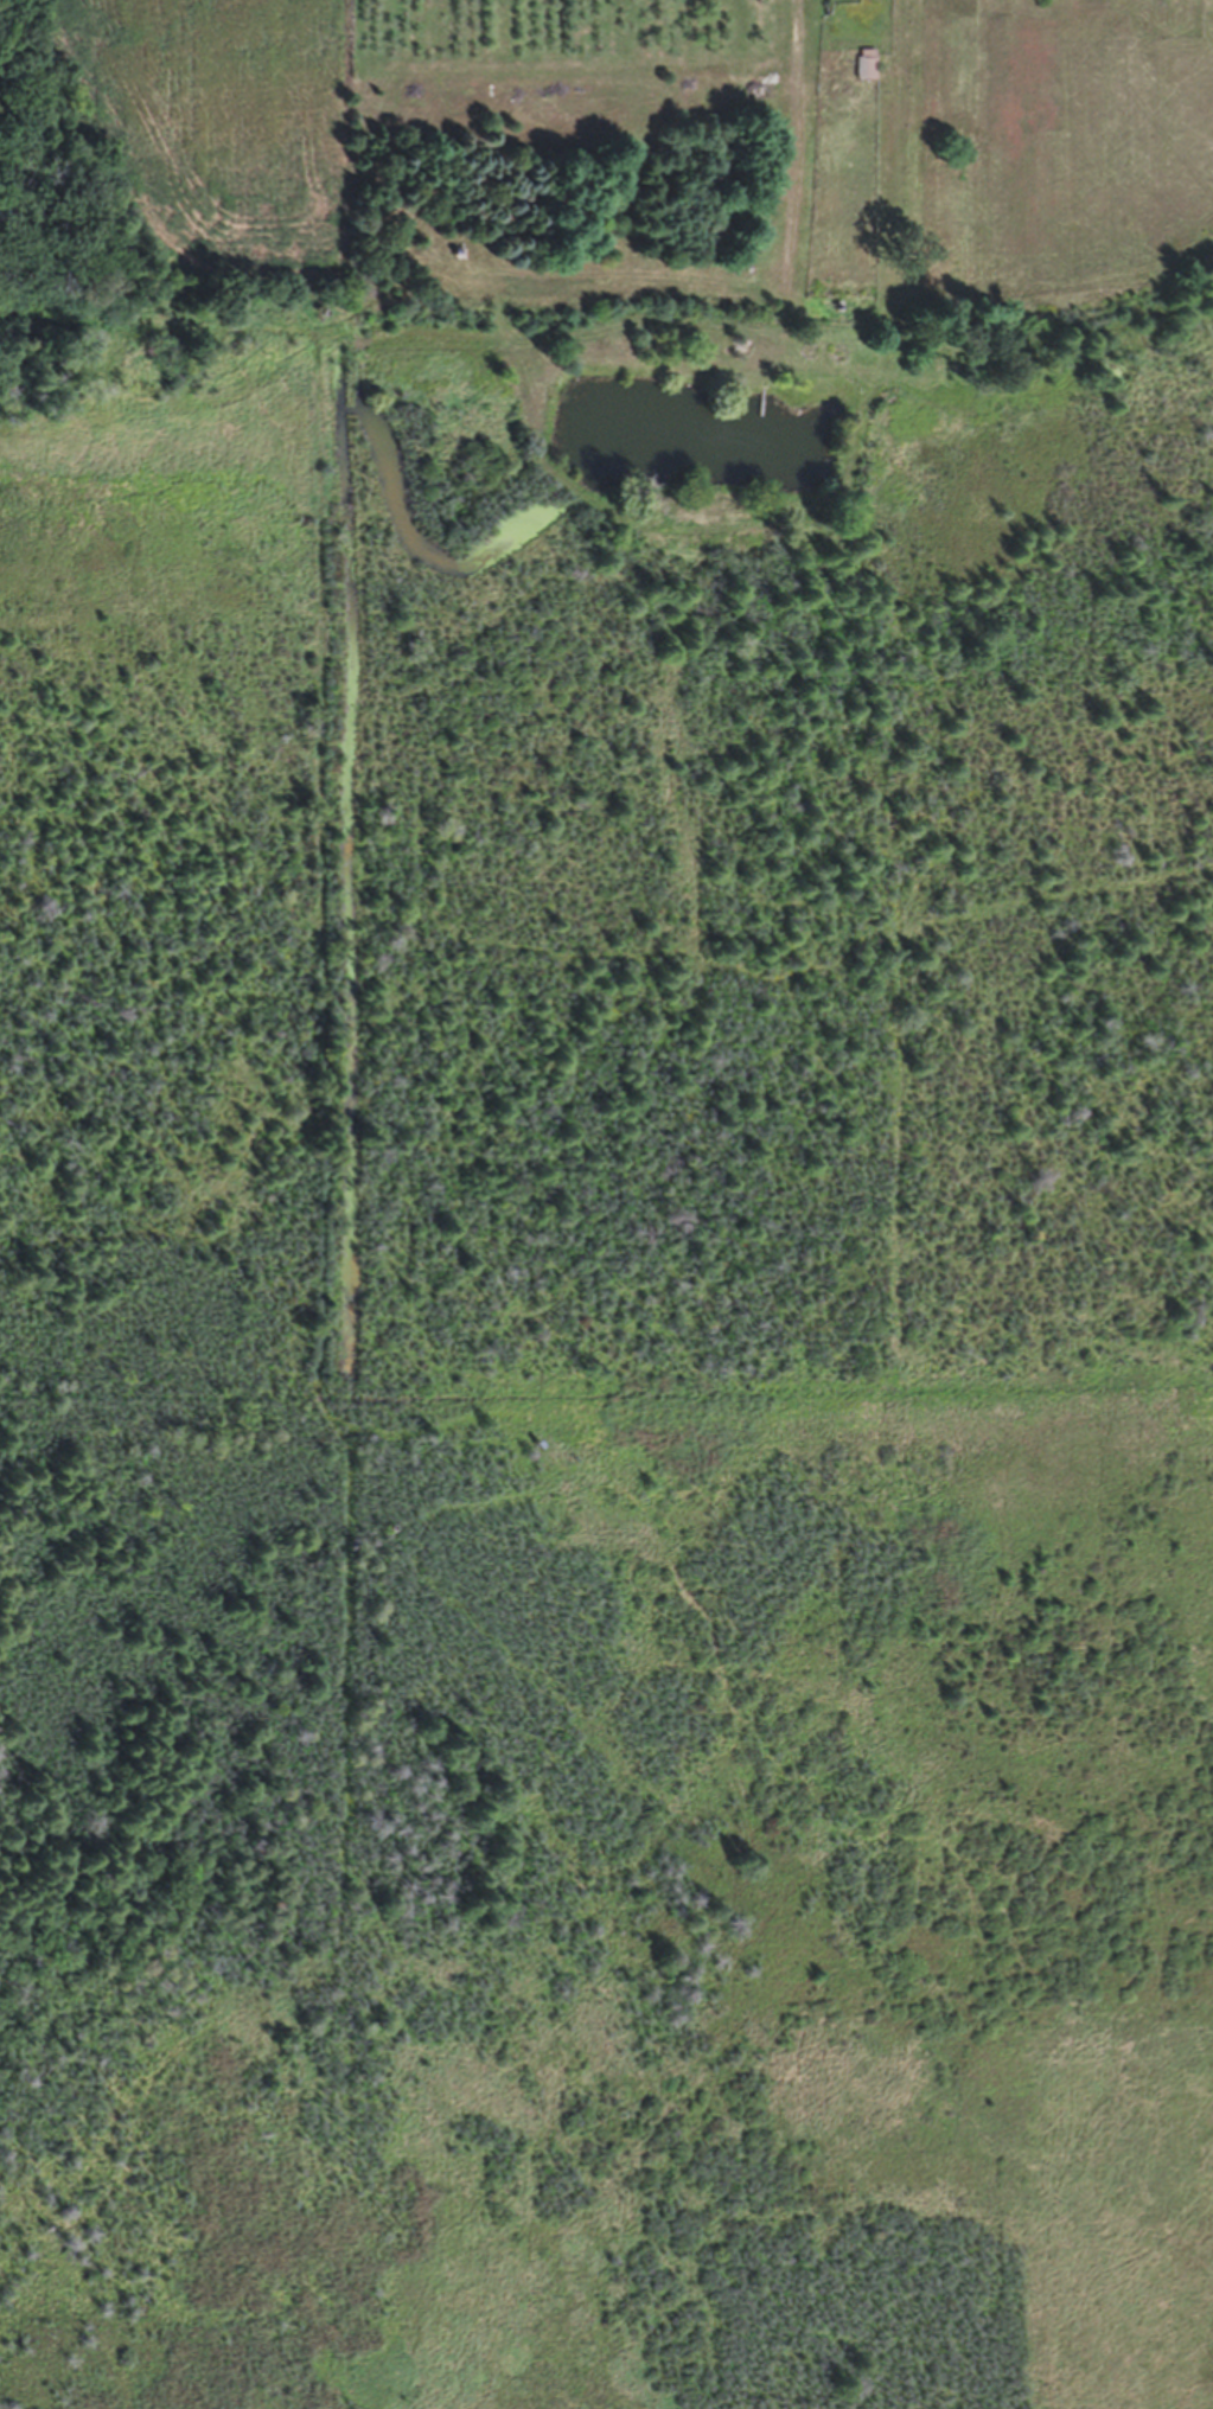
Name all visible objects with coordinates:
building: (862, 75)

